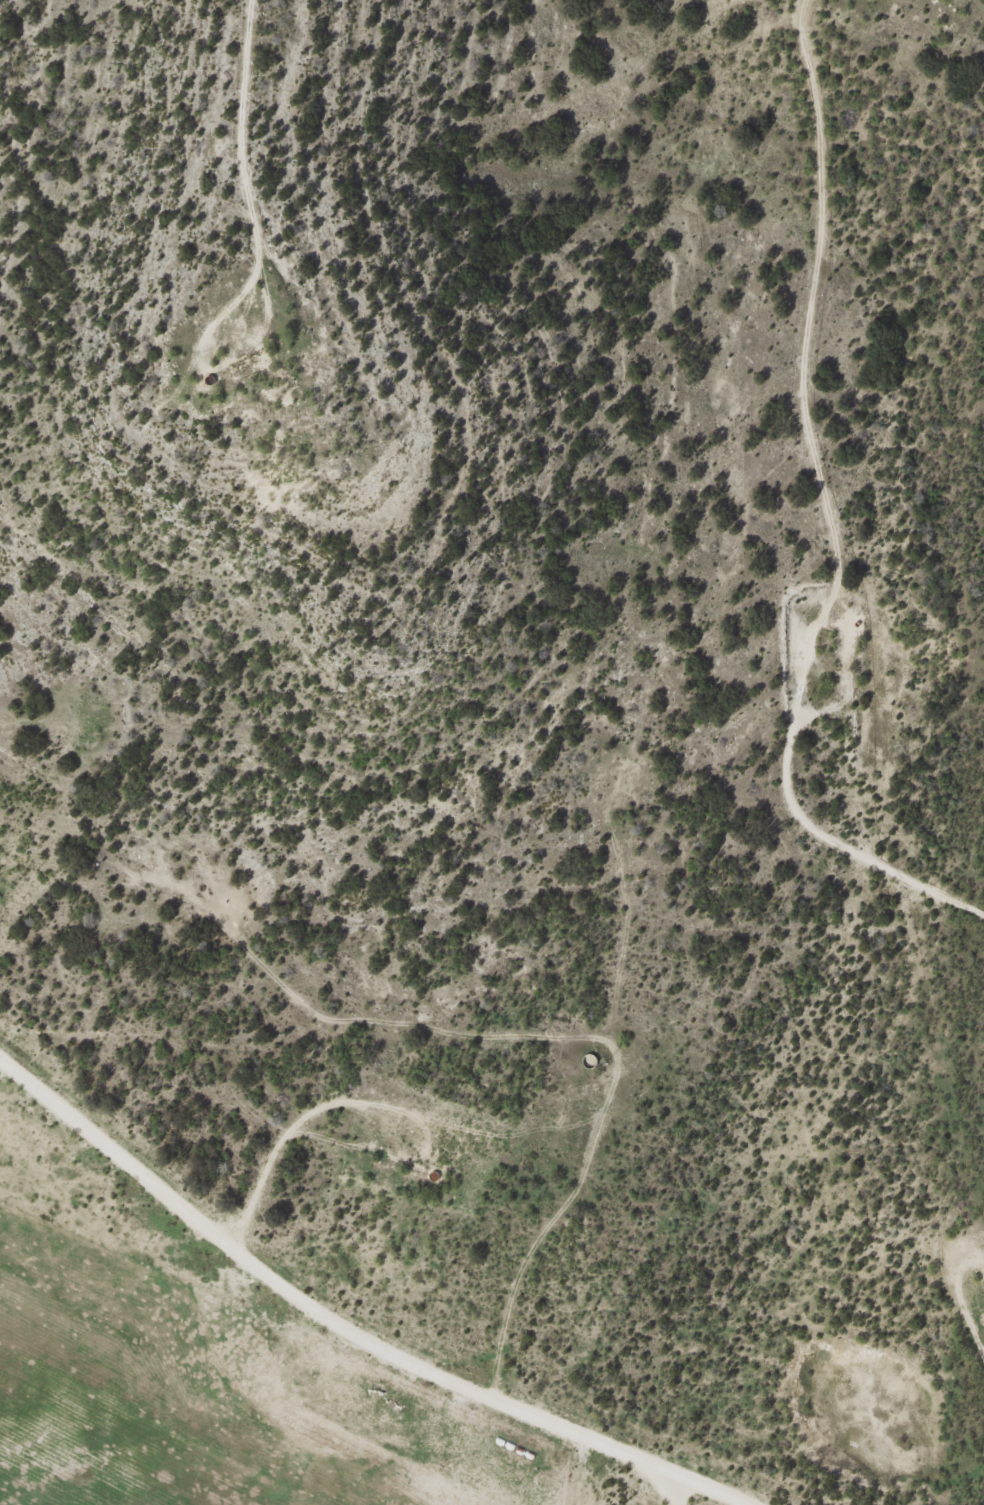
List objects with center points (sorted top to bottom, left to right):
road: (341, 1314)
road: (702, 1499)

